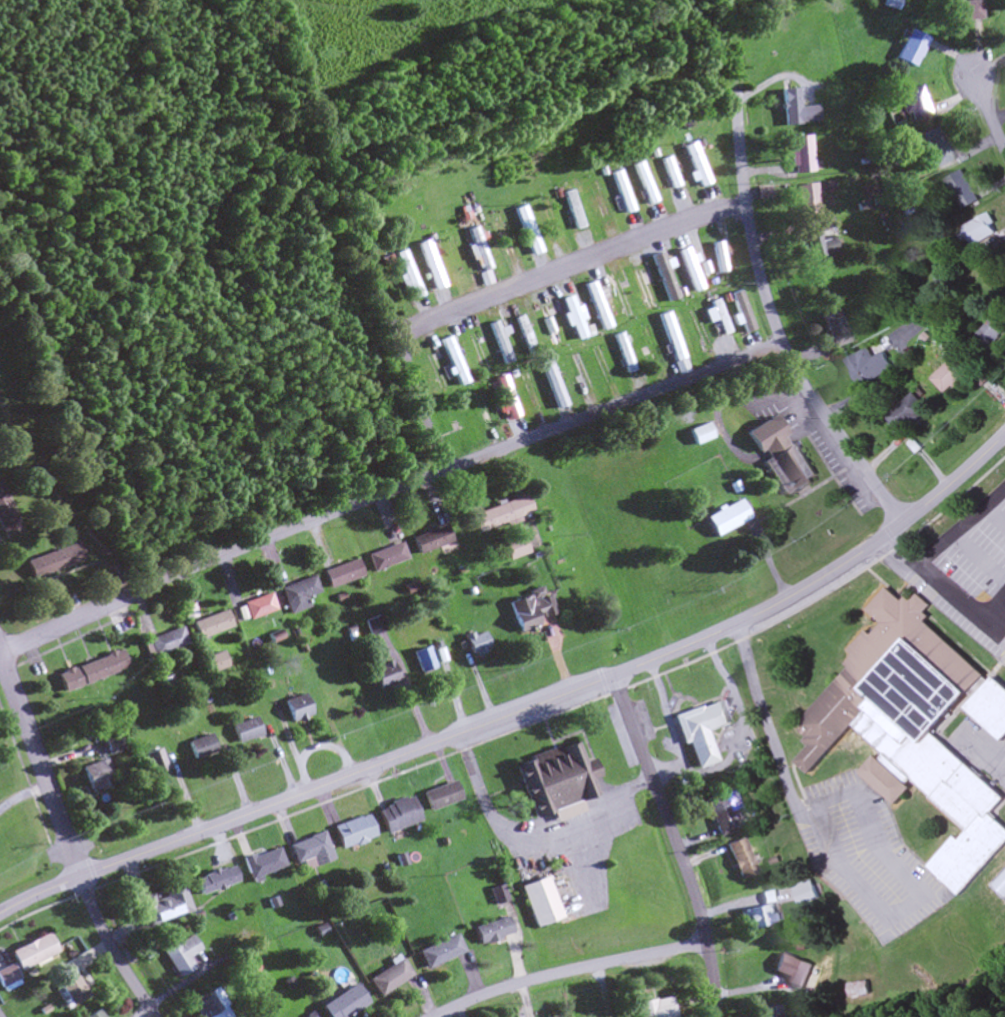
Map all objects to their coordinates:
building: (892, 4)
building: (966, 11)
building: (912, 49)
building: (915, 104)
building: (796, 110)
road: (987, 116)
building: (935, 147)
building: (801, 155)
building: (696, 165)
building: (670, 173)
building: (959, 189)
building: (806, 201)
building: (573, 210)
building: (549, 217)
building: (527, 231)
building: (821, 246)
building: (477, 247)
building: (719, 258)
building: (431, 266)
building: (690, 270)
building: (408, 275)
building: (665, 280)
road: (507, 288)
building: (620, 297)
building: (598, 306)
building: (742, 314)
building: (719, 317)
building: (573, 319)
building: (547, 321)
road: (778, 322)
building: (836, 329)
building: (524, 335)
building: (986, 335)
building: (499, 342)
building: (648, 343)
building: (624, 353)
building: (453, 362)
building: (866, 364)
building: (580, 372)
building: (951, 372)
building: (507, 398)
building: (905, 414)
building: (700, 434)
building: (780, 455)
road: (388, 489)
building: (500, 514)
road: (994, 515)
building: (727, 518)
building: (5, 521)
road: (957, 526)
building: (432, 540)
parking lot: (972, 546)
building: (514, 548)
road: (977, 555)
building: (387, 557)
building: (50, 561)
building: (342, 574)
road: (933, 587)
building: (297, 595)
road: (989, 604)
building: (256, 607)
building: (528, 610)
building: (186, 612)
building: (208, 625)
building: (374, 627)
road: (997, 628)
building: (161, 643)
road: (997, 643)
building: (475, 644)
building: (423, 660)
building: (212, 663)
building: (88, 672)
building: (383, 676)
building: (333, 697)
road: (523, 707)
building: (990, 707)
building: (295, 709)
building: (909, 725)
building: (243, 731)
building: (699, 731)
building: (111, 742)
building: (199, 747)
road: (985, 750)
building: (153, 762)
building: (96, 774)
building: (554, 782)
building: (439, 797)
building: (724, 812)
building: (396, 815)
building: (351, 833)
road: (68, 840)
road: (676, 842)
building: (308, 852)
building: (739, 859)
building: (260, 862)
building: (213, 880)
building: (536, 901)
building: (162, 906)
building: (757, 916)
building: (488, 930)
building: (32, 952)
building: (436, 952)
building: (179, 955)
road: (568, 970)
building: (791, 970)
building: (7, 976)
building: (387, 977)
building: (859, 988)
building: (72, 991)
building: (341, 1003)
building: (210, 1005)
building: (653, 1008)
building: (768, 1011)
building: (94, 1014)
building: (589, 1015)
building: (310, 1016)

